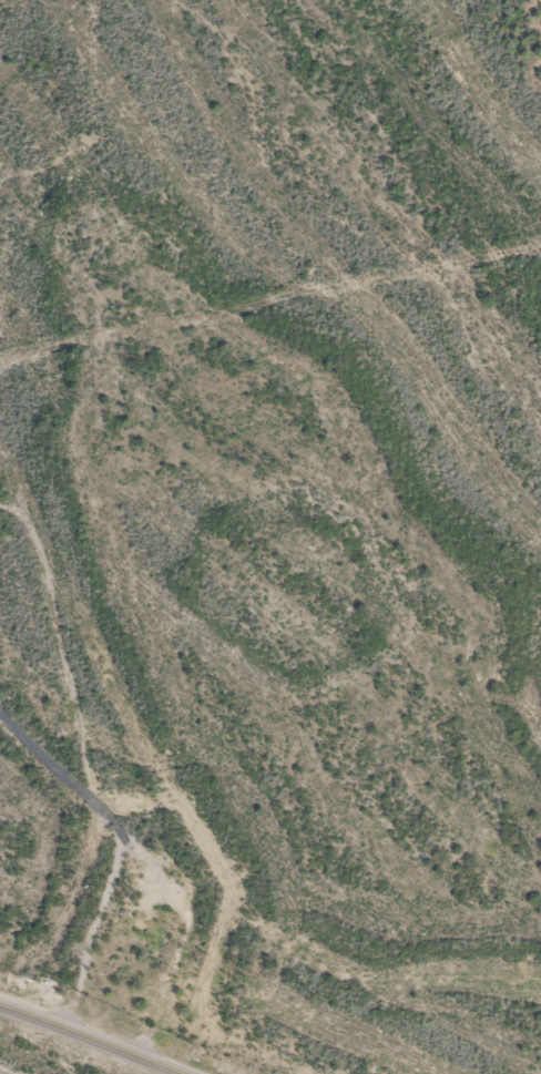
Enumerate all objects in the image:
road: (94, 1039)
railway: (1, 1073)

